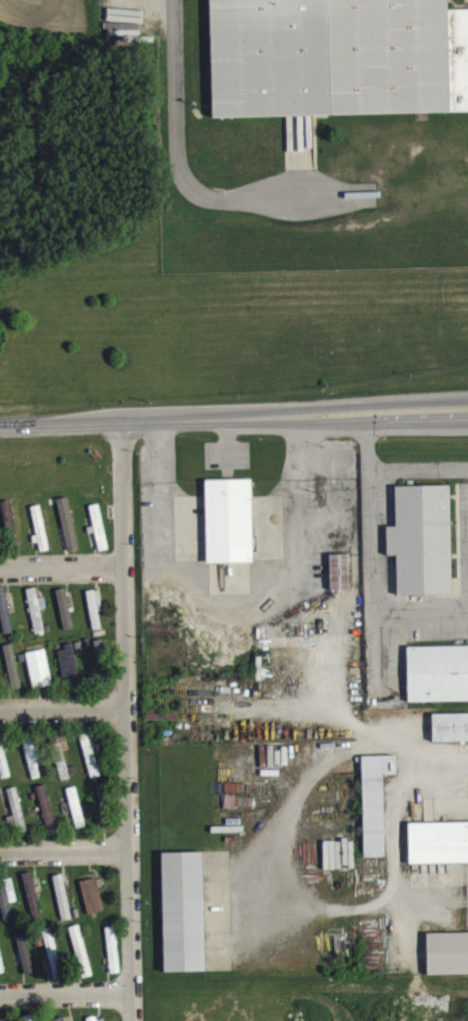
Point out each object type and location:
building: (337, 56)
parking lot: (176, 111)
road: (233, 417)
road: (418, 469)
building: (230, 529)
building: (10, 530)
building: (40, 537)
building: (69, 537)
building: (98, 537)
building: (420, 537)
road: (370, 557)
road: (63, 562)
building: (340, 580)
road: (226, 602)
building: (95, 617)
building: (65, 618)
building: (37, 619)
building: (5, 620)
building: (102, 665)
building: (436, 671)
building: (13, 674)
building: (70, 675)
building: (40, 678)
road: (64, 705)
road: (128, 719)
building: (450, 736)
building: (90, 764)
building: (33, 765)
building: (60, 767)
building: (4, 771)
building: (104, 804)
building: (375, 811)
building: (76, 816)
building: (47, 817)
building: (16, 821)
road: (65, 843)
building: (438, 851)
building: (32, 903)
building: (92, 904)
building: (63, 906)
building: (7, 908)
building: (184, 920)
building: (113, 958)
building: (81, 960)
building: (25, 962)
building: (53, 962)
building: (448, 962)
building: (1, 972)
road: (66, 980)

